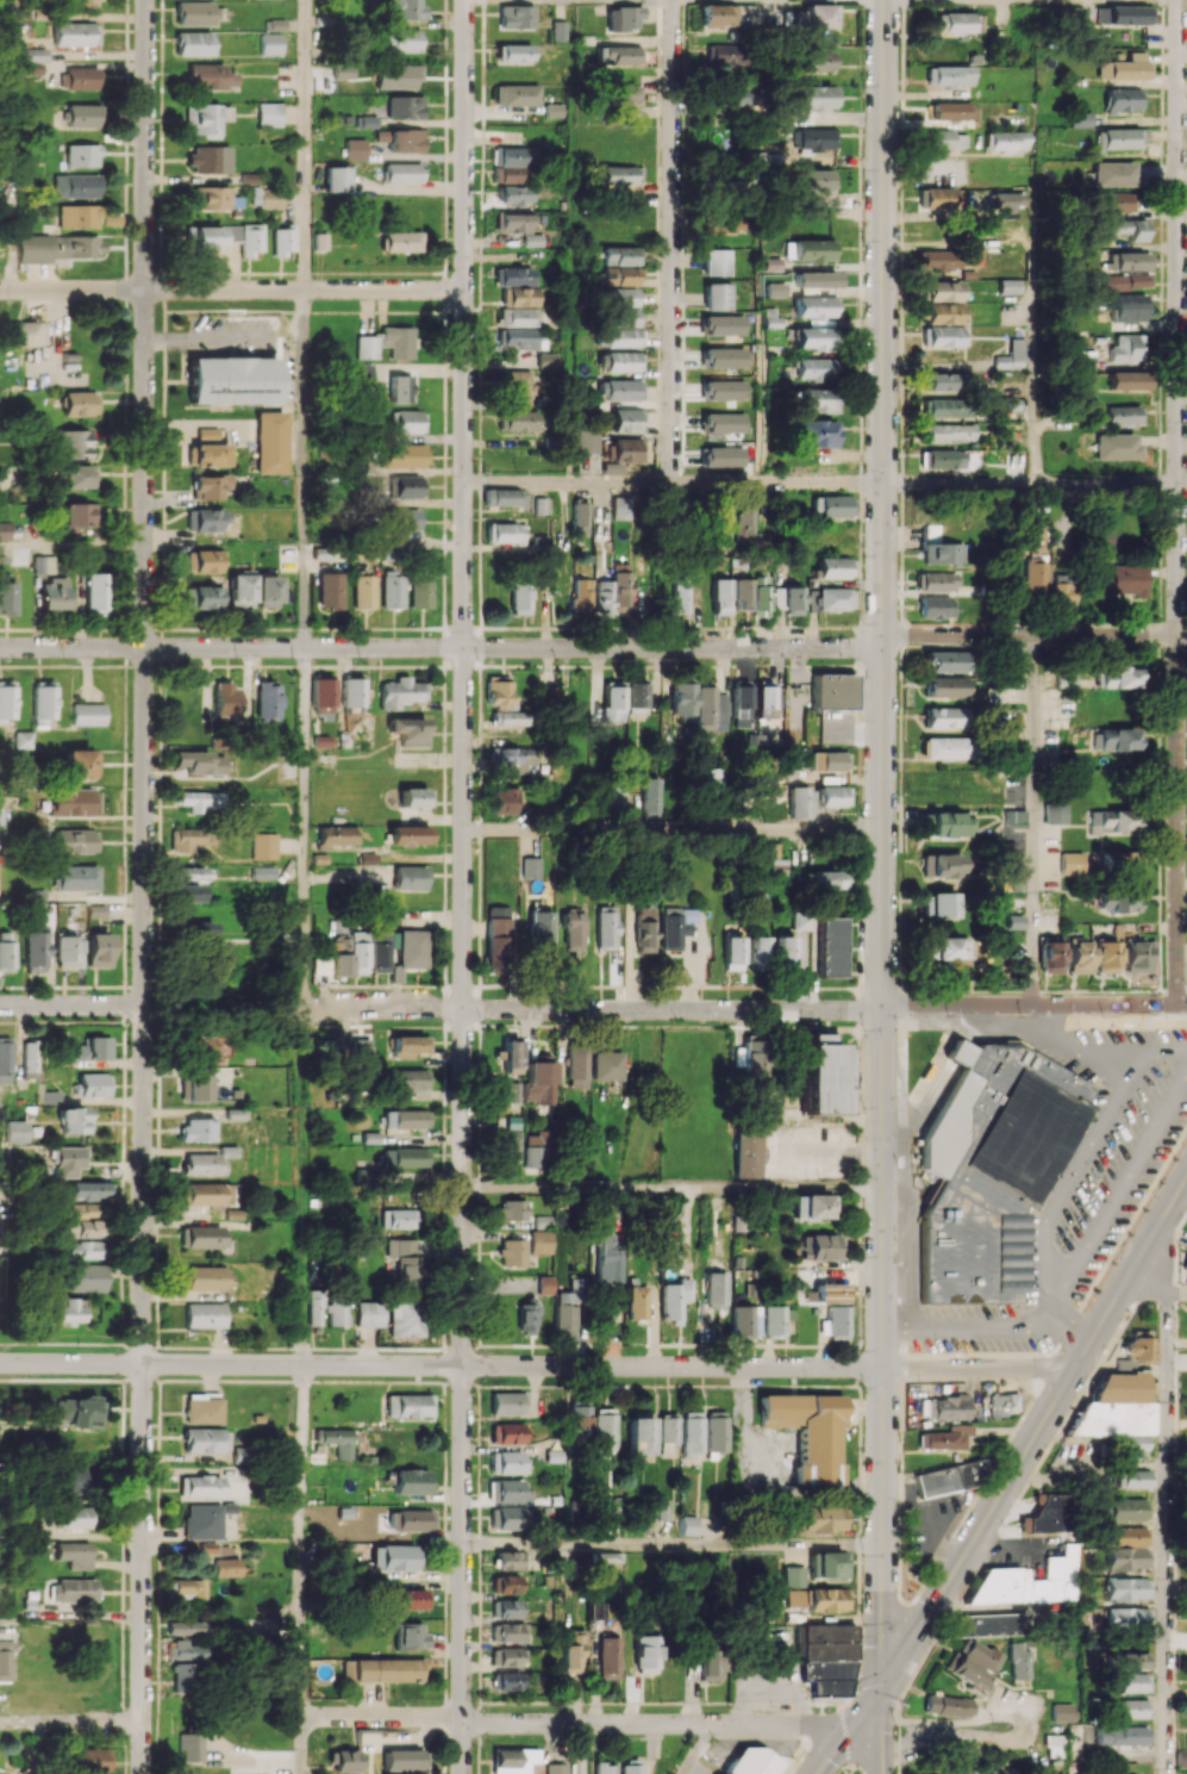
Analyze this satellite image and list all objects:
road: (1130, 0)
road: (1183, 1)
building: (86, 2)
building: (406, 8)
building: (1124, 14)
building: (717, 15)
building: (517, 17)
building: (623, 18)
building: (816, 21)
building: (955, 23)
building: (275, 24)
building: (560, 30)
building: (76, 33)
building: (406, 39)
building: (193, 43)
building: (270, 44)
building: (514, 52)
building: (37, 55)
building: (619, 55)
building: (720, 56)
building: (812, 61)
building: (948, 75)
building: (210, 76)
building: (80, 77)
building: (626, 93)
building: (517, 94)
building: (813, 97)
building: (1124, 100)
building: (404, 107)
building: (952, 111)
building: (268, 113)
building: (81, 114)
building: (205, 119)
building: (812, 138)
building: (1120, 138)
building: (944, 139)
building: (405, 141)
building: (1005, 141)
road: (305, 144)
building: (355, 149)
building: (82, 155)
building: (208, 158)
building: (512, 163)
building: (401, 173)
building: (621, 174)
building: (1114, 174)
building: (336, 179)
building: (811, 180)
building: (724, 183)
building: (76, 186)
building: (516, 194)
building: (268, 197)
building: (210, 198)
building: (941, 198)
building: (1118, 201)
building: (79, 216)
building: (723, 223)
building: (519, 228)
building: (1126, 228)
building: (225, 236)
building: (282, 239)
building: (320, 241)
building: (401, 241)
road: (673, 241)
road: (957, 245)
building: (57, 247)
building: (813, 249)
building: (619, 255)
building: (948, 259)
building: (1127, 261)
building: (717, 262)
building: (770, 263)
building: (618, 275)
building: (514, 276)
building: (814, 279)
building: (1126, 281)
building: (1008, 286)
road: (232, 290)
building: (773, 290)
building: (943, 291)
building: (717, 295)
building: (520, 297)
building: (624, 297)
building: (1129, 307)
building: (945, 313)
building: (518, 317)
building: (812, 322)
building: (721, 324)
building: (27, 334)
building: (945, 336)
building: (518, 337)
building: (623, 337)
building: (387, 343)
building: (1127, 348)
building: (1011, 355)
building: (721, 357)
building: (1086, 359)
building: (548, 361)
building: (620, 361)
road: (1032, 365)
building: (811, 368)
building: (361, 373)
building: (232, 380)
building: (1127, 380)
building: (942, 381)
building: (519, 386)
building: (400, 388)
building: (619, 390)
building: (721, 390)
building: (813, 399)
building: (79, 403)
building: (1004, 404)
building: (948, 407)
building: (1123, 415)
building: (407, 421)
building: (518, 421)
building: (627, 421)
building: (721, 422)
building: (813, 432)
building: (948, 432)
building: (206, 435)
building: (587, 441)
building: (269, 442)
building: (71, 444)
building: (1116, 446)
building: (621, 454)
building: (207, 455)
building: (402, 455)
building: (721, 456)
building: (943, 457)
road: (306, 469)
building: (76, 475)
road: (825, 481)
building: (210, 486)
building: (407, 486)
building: (504, 497)
road: (1179, 502)
building: (831, 505)
building: (621, 508)
building: (79, 516)
building: (581, 518)
building: (204, 519)
building: (407, 521)
building: (745, 521)
building: (719, 522)
building: (5, 530)
building: (506, 533)
building: (1098, 539)
road: (73, 547)
building: (941, 553)
building: (202, 561)
building: (44, 564)
building: (835, 567)
building: (1029, 575)
building: (1125, 579)
building: (936, 581)
building: (621, 589)
building: (330, 590)
building: (393, 590)
building: (239, 591)
building: (265, 591)
building: (364, 591)
building: (420, 592)
building: (54, 593)
building: (743, 593)
building: (1058, 593)
building: (96, 595)
building: (581, 596)
building: (602, 596)
building: (761, 596)
building: (7, 597)
building: (204, 597)
building: (520, 597)
building: (721, 597)
building: (831, 598)
building: (789, 599)
building: (681, 600)
building: (937, 606)
road: (1035, 634)
road: (442, 647)
building: (948, 661)
building: (1118, 678)
building: (945, 687)
building: (499, 691)
building: (833, 691)
building: (352, 692)
building: (400, 692)
building: (323, 695)
building: (225, 698)
building: (636, 698)
building: (682, 698)
building: (764, 699)
building: (6, 701)
building: (268, 702)
building: (43, 703)
building: (741, 703)
building: (614, 704)
building: (705, 709)
building: (87, 714)
building: (510, 717)
building: (943, 717)
building: (410, 730)
building: (23, 739)
building: (1113, 739)
building: (947, 748)
building: (518, 759)
building: (829, 760)
building: (79, 762)
building: (198, 762)
building: (616, 793)
building: (833, 796)
building: (413, 797)
building: (652, 797)
building: (199, 801)
building: (506, 801)
building: (74, 802)
building: (802, 802)
building: (1054, 813)
road: (1032, 820)
building: (1108, 820)
building: (944, 824)
road: (306, 827)
road: (673, 829)
building: (337, 835)
building: (410, 835)
building: (186, 839)
building: (75, 840)
road: (882, 842)
building: (264, 846)
building: (1099, 863)
building: (781, 865)
building: (942, 865)
building: (532, 866)
building: (190, 872)
building: (263, 872)
building: (76, 877)
building: (410, 878)
building: (827, 879)
road: (144, 886)
road: (463, 886)
building: (188, 892)
building: (1119, 900)
building: (939, 905)
building: (96, 910)
building: (800, 920)
building: (1013, 921)
building: (645, 926)
building: (675, 926)
building: (607, 927)
building: (195, 928)
building: (541, 928)
building: (575, 930)
building: (498, 935)
building: (829, 946)
building: (412, 948)
building: (954, 948)
building: (99, 950)
building: (757, 950)
building: (6, 951)
building: (35, 951)
building: (67, 951)
building: (379, 951)
building: (785, 951)
building: (358, 952)
building: (732, 952)
building: (339, 954)
building: (1050, 957)
building: (1077, 957)
building: (1105, 957)
building: (1135, 957)
road: (71, 1004)
road: (1033, 1004)
road: (593, 1008)
building: (408, 1045)
building: (206, 1046)
building: (325, 1047)
building: (96, 1048)
road: (1157, 1051)
building: (361, 1056)
building: (512, 1056)
building: (5, 1058)
building: (751, 1058)
building: (30, 1059)
building: (607, 1065)
building: (579, 1069)
building: (820, 1075)
building: (411, 1082)
building: (539, 1082)
building: (95, 1084)
building: (195, 1088)
building: (505, 1091)
building: (406, 1119)
building: (74, 1120)
road: (1095, 1128)
building: (196, 1129)
building: (15, 1131)
building: (511, 1146)
building: (536, 1149)
building: (748, 1153)
building: (406, 1158)
building: (69, 1160)
building: (206, 1162)
building: (989, 1168)
road: (305, 1184)
road: (673, 1187)
building: (90, 1190)
road: (1117, 1191)
building: (205, 1193)
building: (814, 1206)
building: (512, 1209)
building: (83, 1210)
building: (399, 1218)
building: (82, 1228)
building: (201, 1237)
building: (542, 1241)
building: (820, 1246)
building: (82, 1250)
building: (513, 1252)
building: (405, 1259)
building: (610, 1259)
road: (1166, 1263)
building: (81, 1277)
building: (200, 1277)
building: (546, 1284)
building: (716, 1290)
building: (831, 1293)
road: (1177, 1293)
building: (675, 1299)
building: (637, 1302)
building: (316, 1307)
building: (64, 1311)
building: (337, 1311)
building: (370, 1314)
building: (204, 1315)
building: (527, 1315)
road: (989, 1318)
building: (406, 1319)
building: (775, 1320)
building: (746, 1321)
building: (835, 1322)
building: (1138, 1346)
road: (441, 1364)
road: (979, 1368)
building: (507, 1403)
building: (1002, 1403)
building: (410, 1405)
building: (945, 1407)
building: (77, 1411)
building: (1118, 1412)
building: (579, 1421)
building: (604, 1428)
building: (692, 1432)
building: (808, 1432)
building: (506, 1433)
building: (716, 1433)
building: (667, 1434)
building: (641, 1436)
building: (945, 1438)
building: (205, 1440)
building: (336, 1440)
building: (508, 1462)
building: (945, 1479)
building: (1132, 1479)
building: (73, 1480)
building: (412, 1481)
road: (1008, 1481)
building: (200, 1486)
road: (757, 1487)
building: (507, 1490)
building: (657, 1510)
building: (1126, 1510)
building: (1045, 1513)
building: (75, 1517)
building: (510, 1518)
building: (411, 1519)
building: (823, 1519)
building: (201, 1521)
building: (688, 1525)
road: (1167, 1533)
building: (1124, 1536)
road: (304, 1540)
road: (671, 1544)
building: (74, 1554)
building: (396, 1557)
building: (607, 1557)
building: (1125, 1558)
building: (507, 1560)
building: (831, 1566)
building: (226, 1567)
building: (1032, 1581)
building: (505, 1585)
building: (794, 1586)
building: (187, 1588)
building: (1126, 1588)
building: (74, 1589)
building: (412, 1599)
building: (827, 1599)
building: (507, 1608)
building: (596, 1610)
building: (1126, 1617)
building: (992, 1624)
building: (186, 1627)
building: (508, 1632)
building: (411, 1637)
building: (824, 1641)
building: (185, 1649)
building: (645, 1654)
building: (574, 1655)
building: (507, 1657)
building: (608, 1657)
building: (1129, 1660)
building: (5, 1661)
building: (710, 1662)
building: (1018, 1662)
building: (974, 1664)
building: (382, 1669)
building: (826, 1675)
building: (183, 1676)
road: (898, 1676)
building: (506, 1681)
building: (1132, 1682)
traffic signals: (881, 1686)
building: (948, 1706)
building: (1132, 1708)
building: (1061, 1712)
road: (70, 1719)
road: (575, 1723)
road: (882, 1729)
building: (1122, 1735)
road: (958, 1742)
road: (304, 1745)
building: (1054, 1745)
building: (192, 1747)
road: (585, 1748)
road: (693, 1749)
building: (1181, 1759)
building: (93, 1760)
building: (404, 1760)
building: (344, 1761)
building: (750, 1761)
building: (631, 1767)
building: (557, 1768)
building: (605, 1768)
building: (967, 1773)

